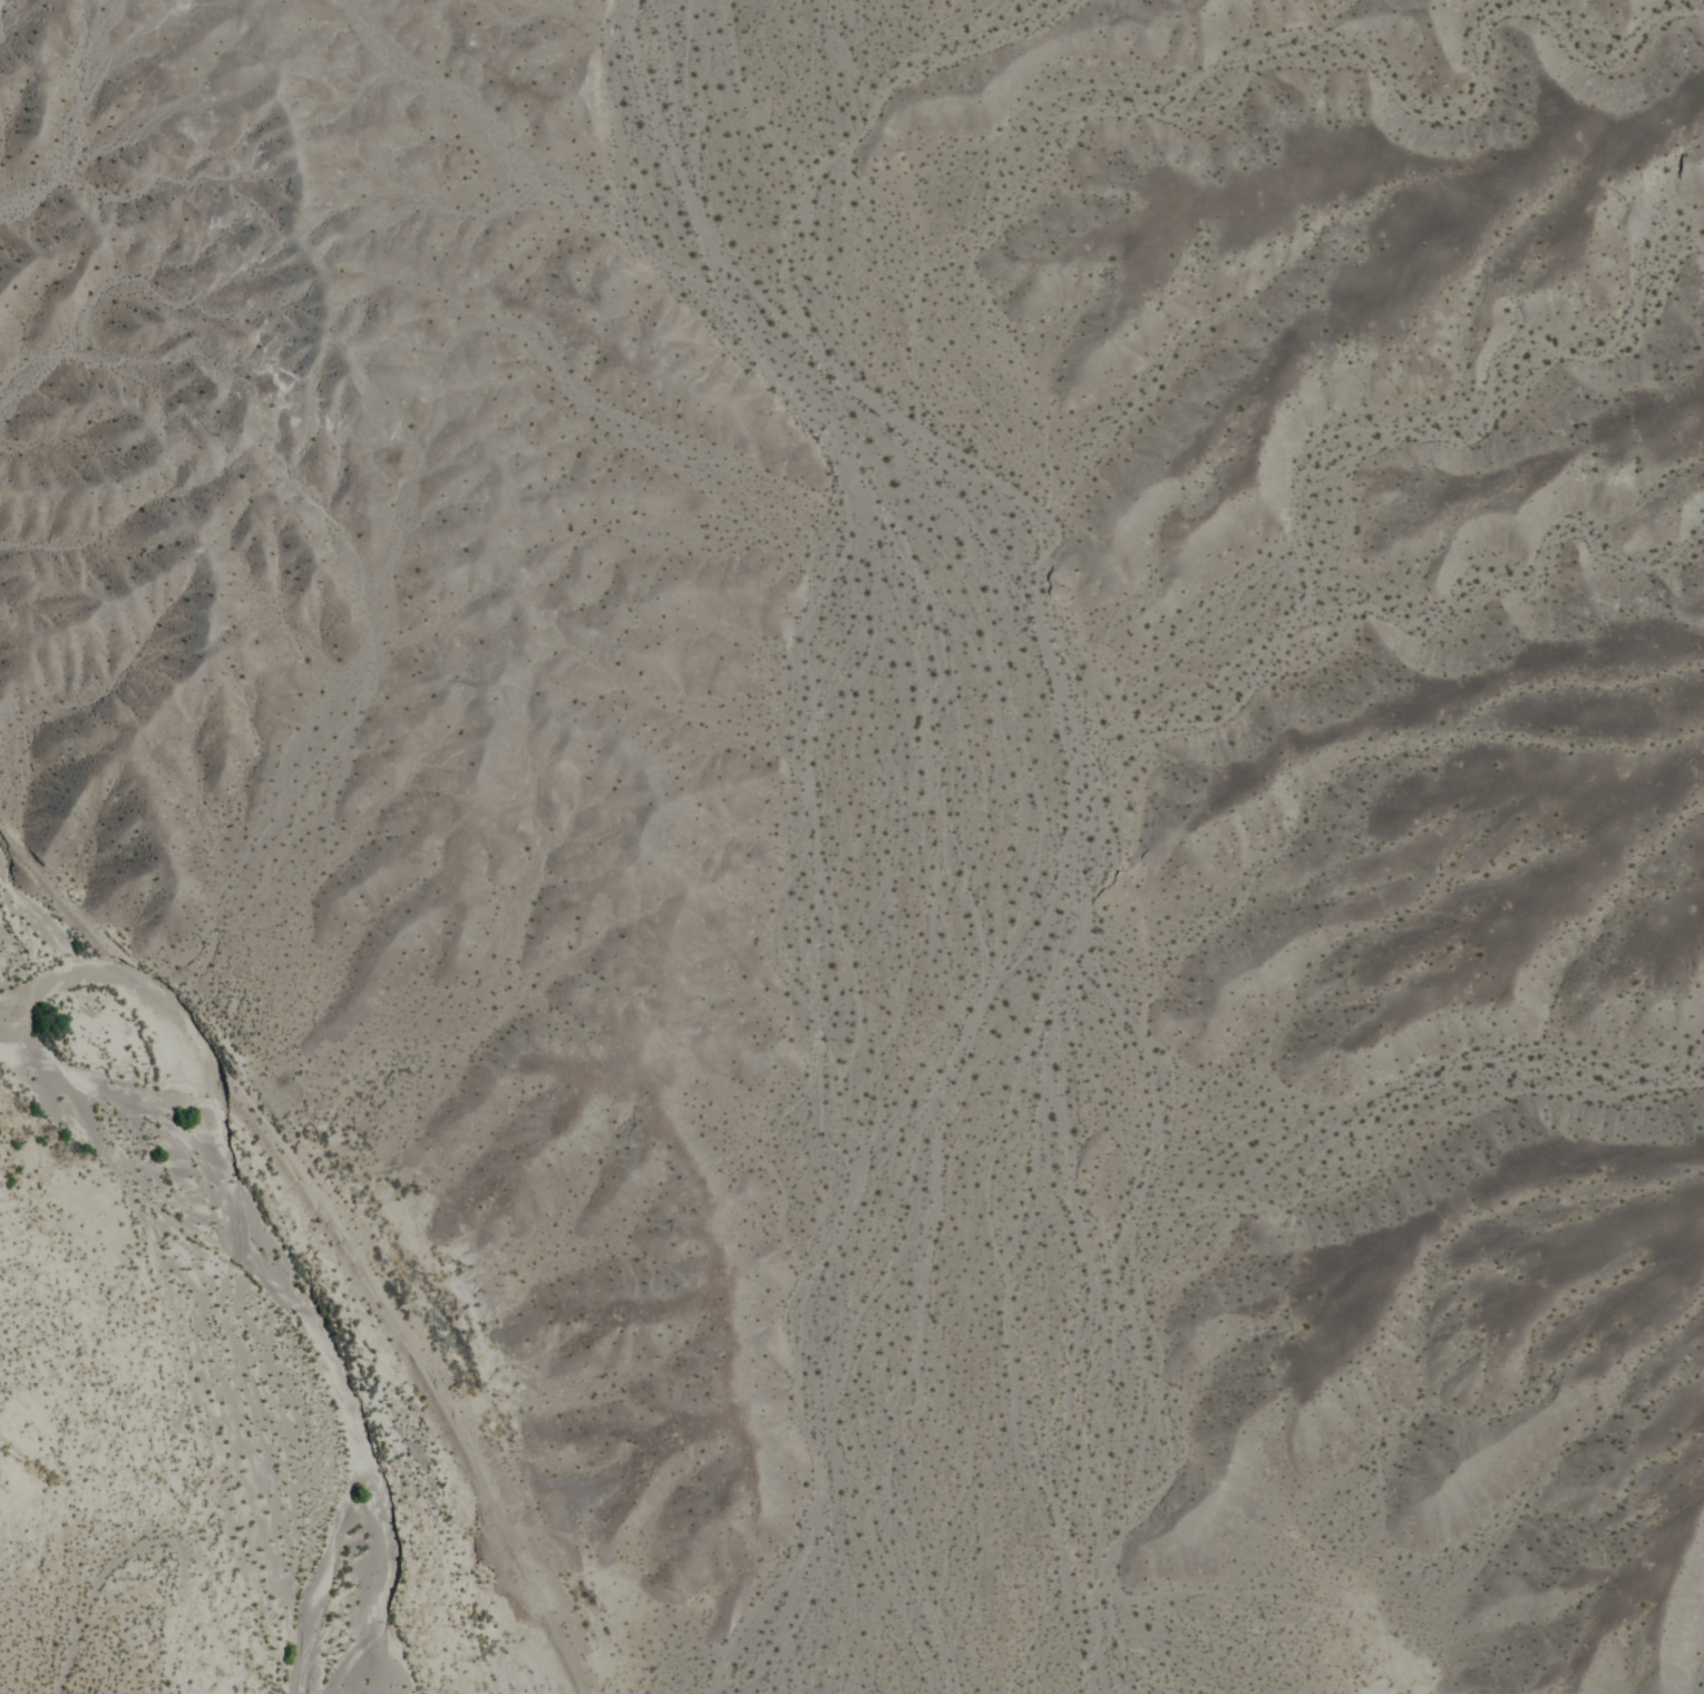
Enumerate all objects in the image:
road: (1020, 923)
river: (259, 1317)

